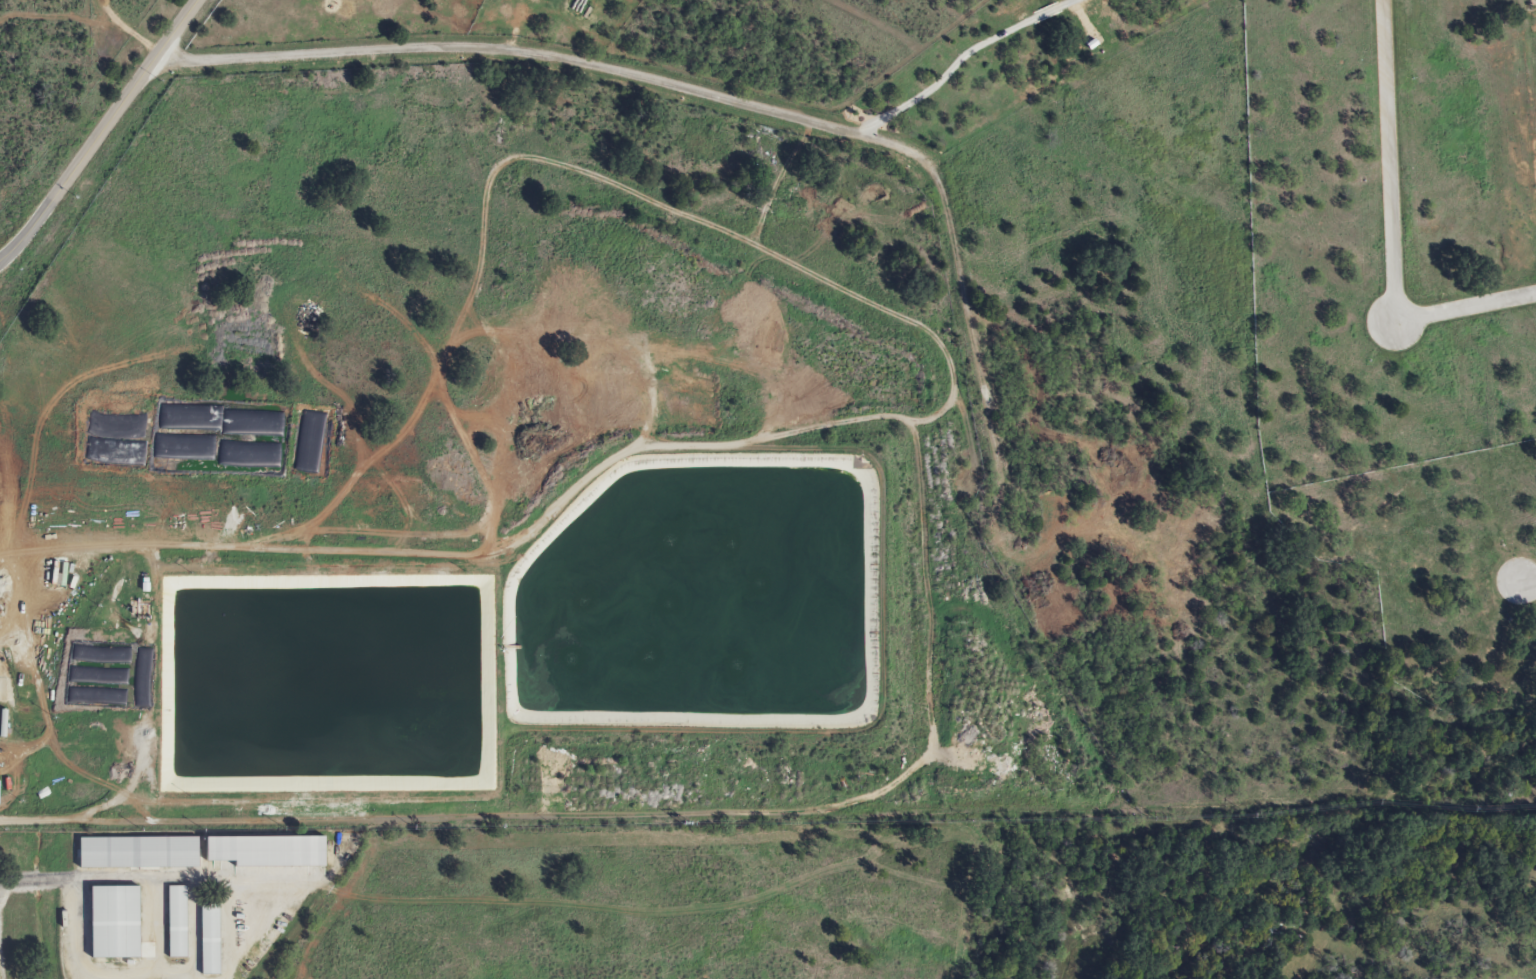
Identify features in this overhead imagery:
road: (547, 56)
road: (101, 131)
road: (1386, 158)
road: (1465, 303)
road: (652, 402)
wastewater plant: (501, 476)
road: (338, 551)
road: (1528, 582)
road: (716, 732)
road: (135, 772)
building: (110, 921)
building: (173, 921)
building: (206, 938)

